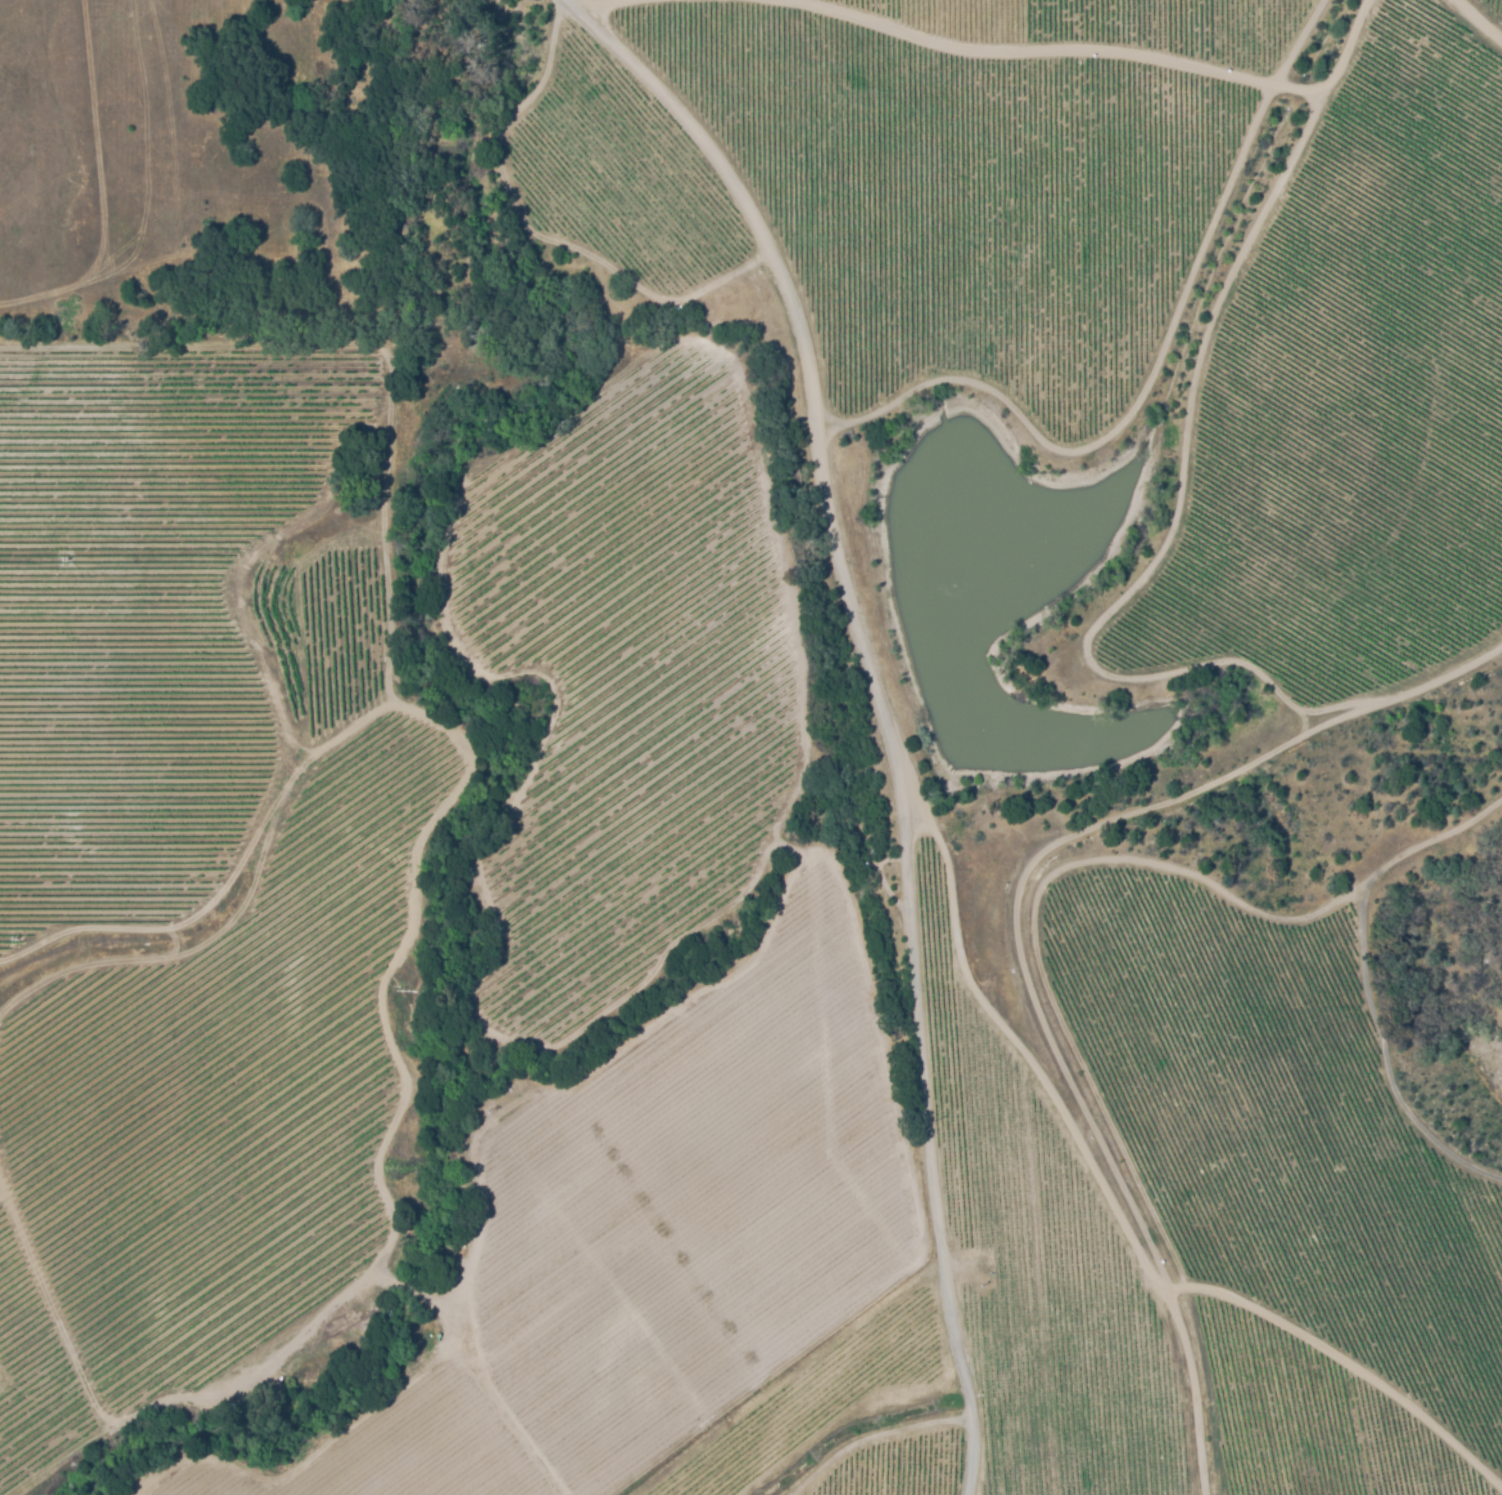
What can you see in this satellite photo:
road: (587, 19)
building: (498, 361)
road: (894, 734)
road: (921, 795)
road: (1097, 1166)

